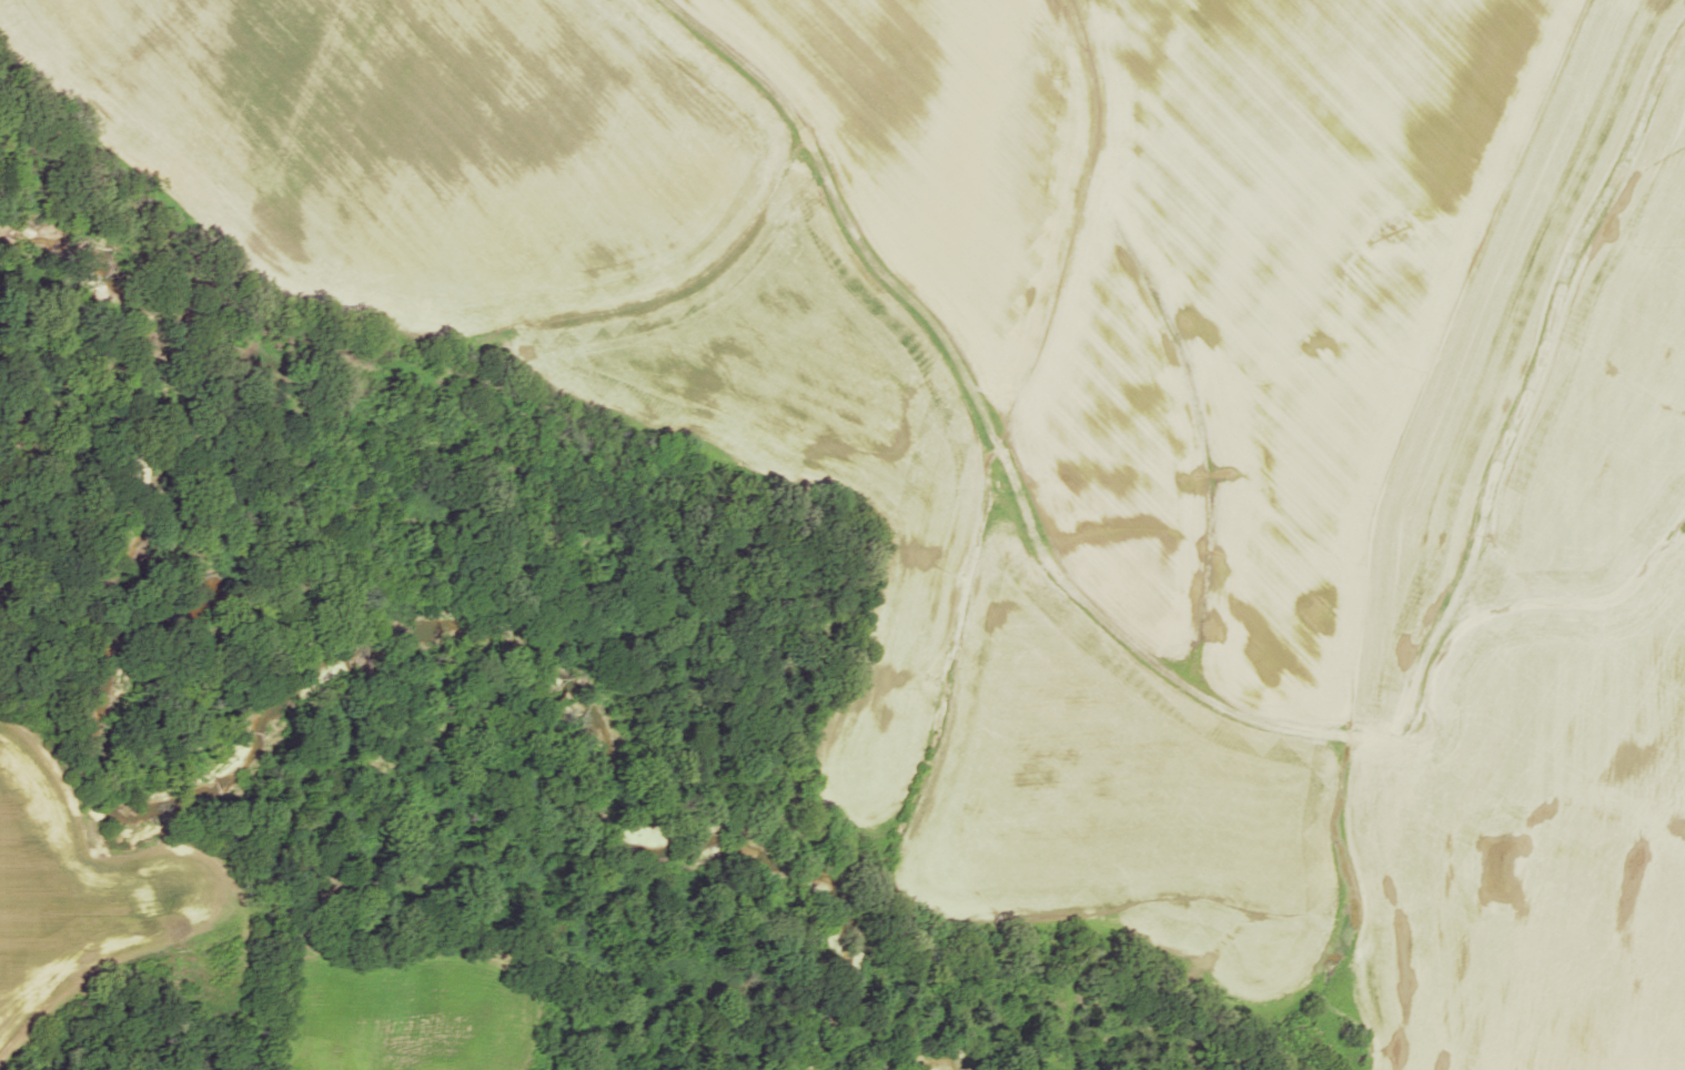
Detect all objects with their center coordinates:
road: (1533, 363)
road: (1065, 544)

